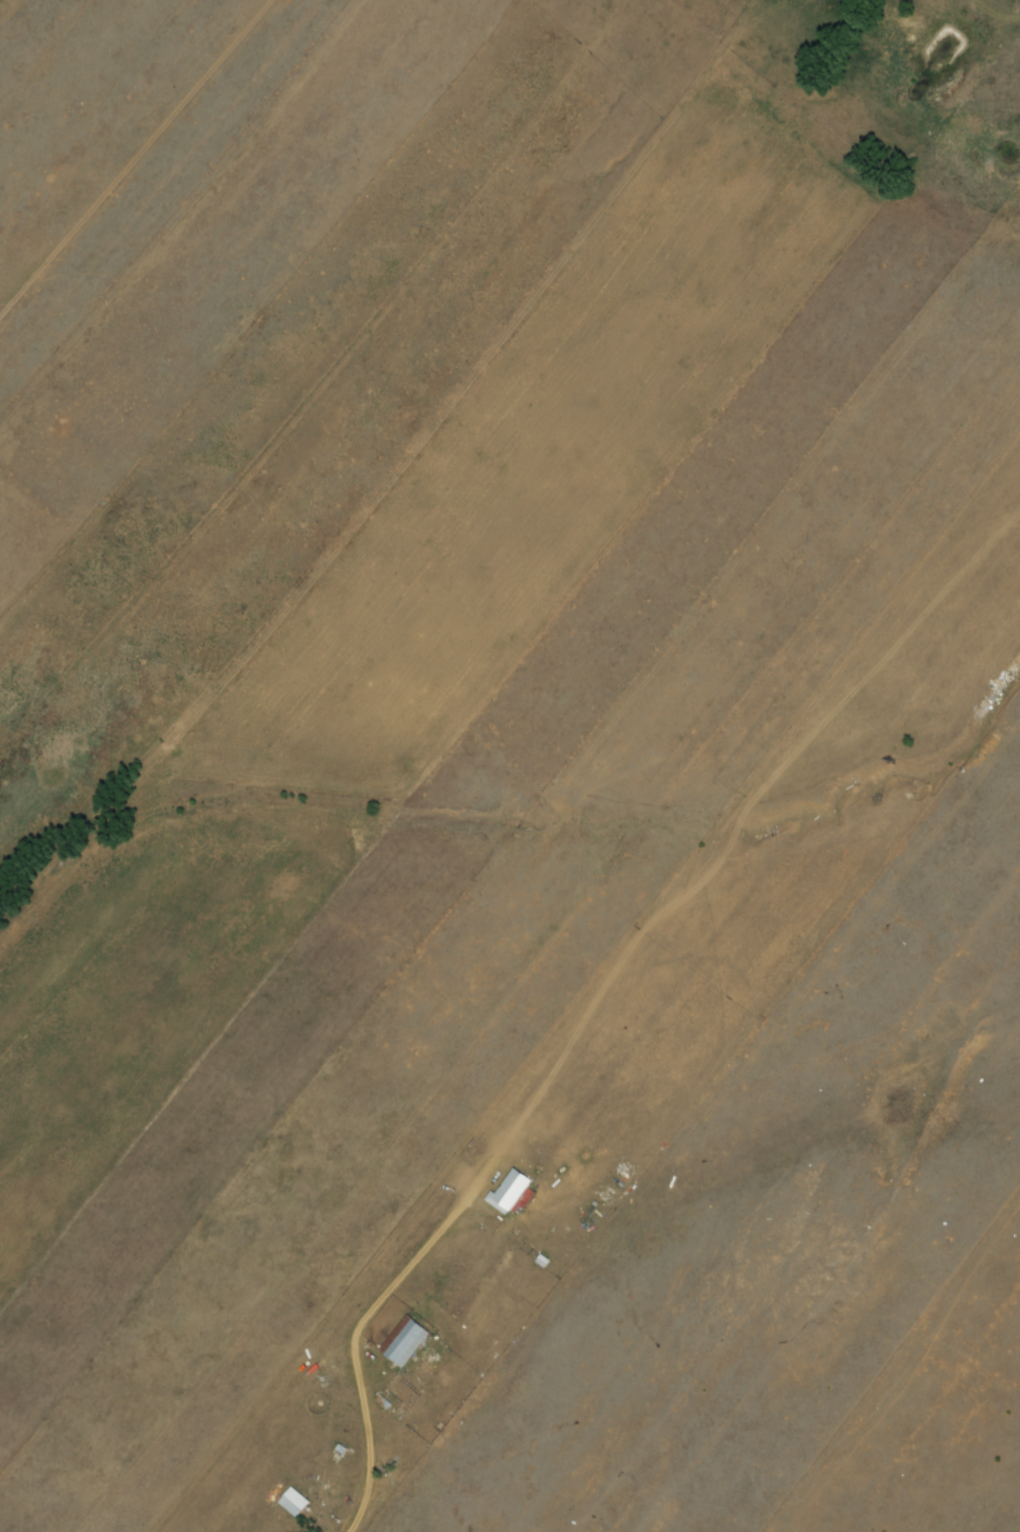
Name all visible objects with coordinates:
building: (402, 1342)
building: (291, 1502)
road: (350, 1531)

